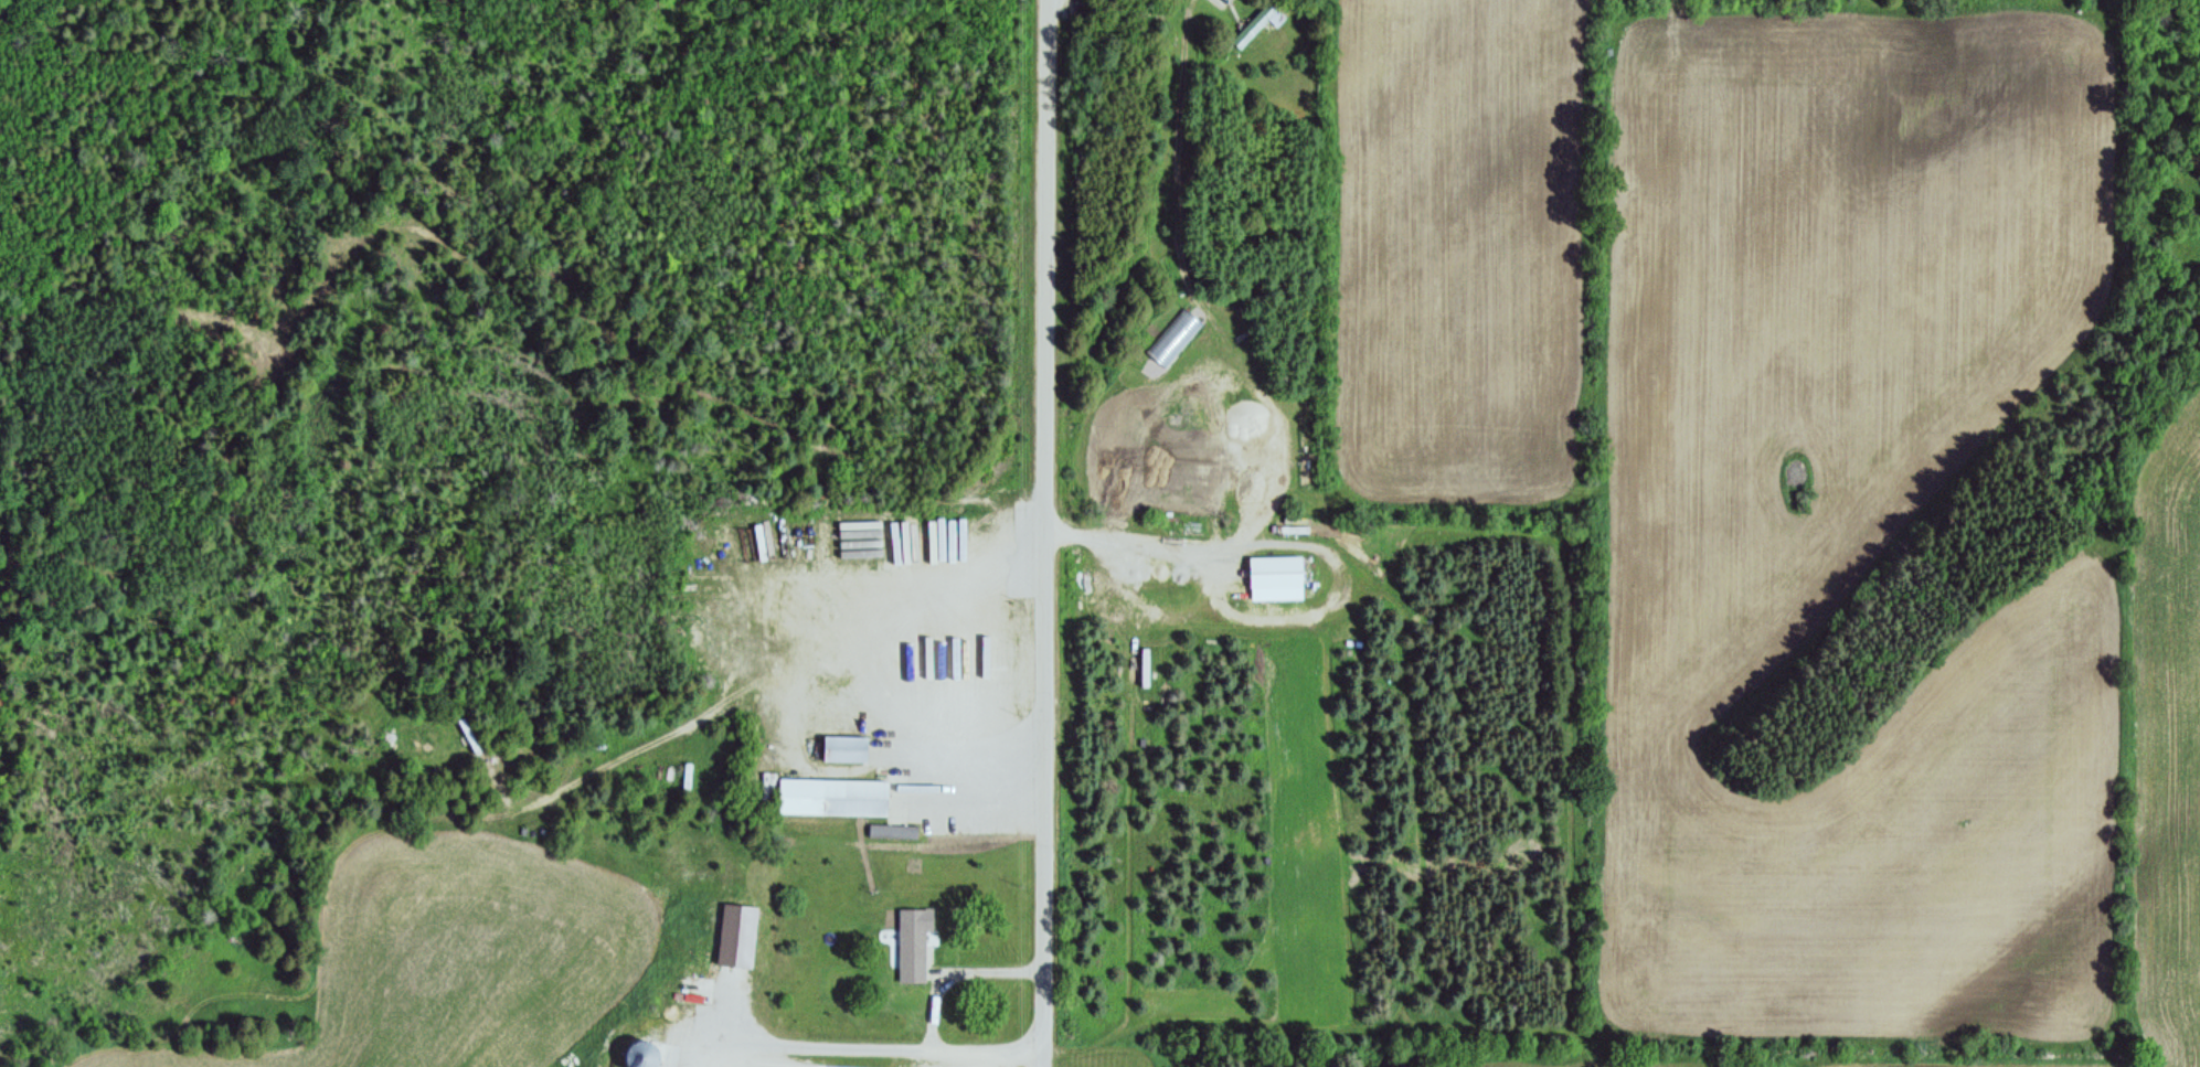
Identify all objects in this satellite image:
building: (1257, 25)
road: (1041, 533)
building: (1276, 573)
building: (844, 749)
building: (832, 798)
building: (882, 832)
building: (910, 832)
building: (737, 937)
building: (914, 946)
road: (855, 1048)
building: (641, 1055)

